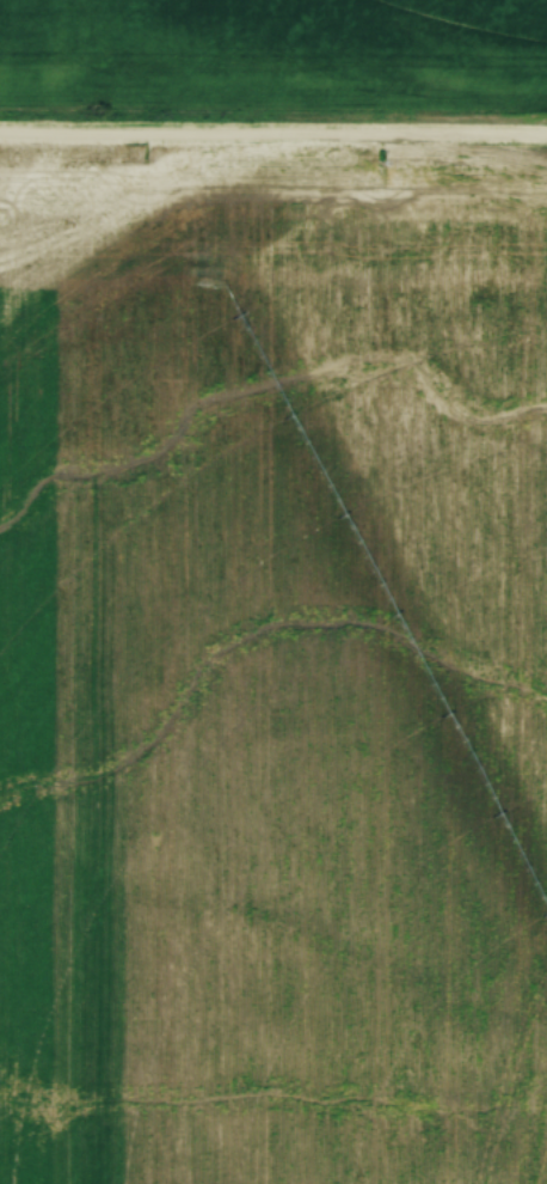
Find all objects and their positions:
road: (273, 134)

